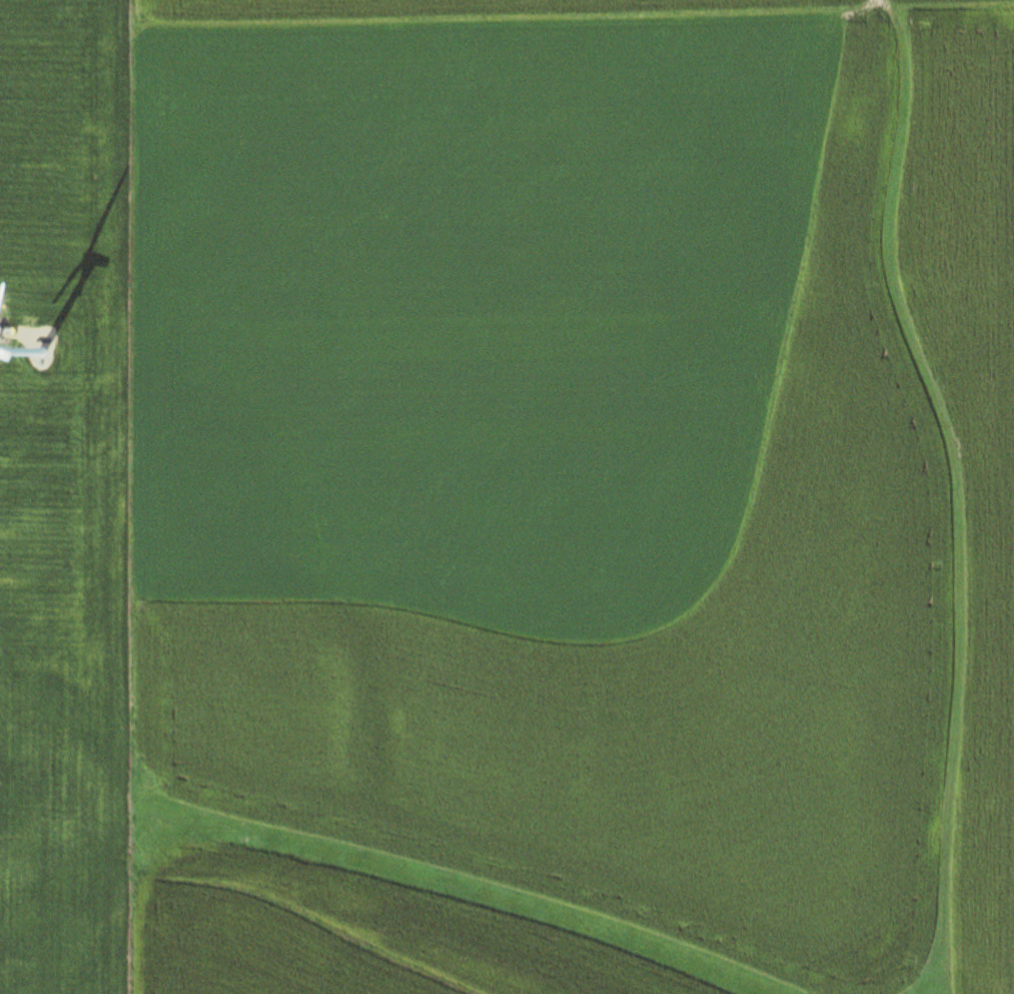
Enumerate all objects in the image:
building: (13, 338)
road: (24, 338)
wind turbine: (44, 363)

